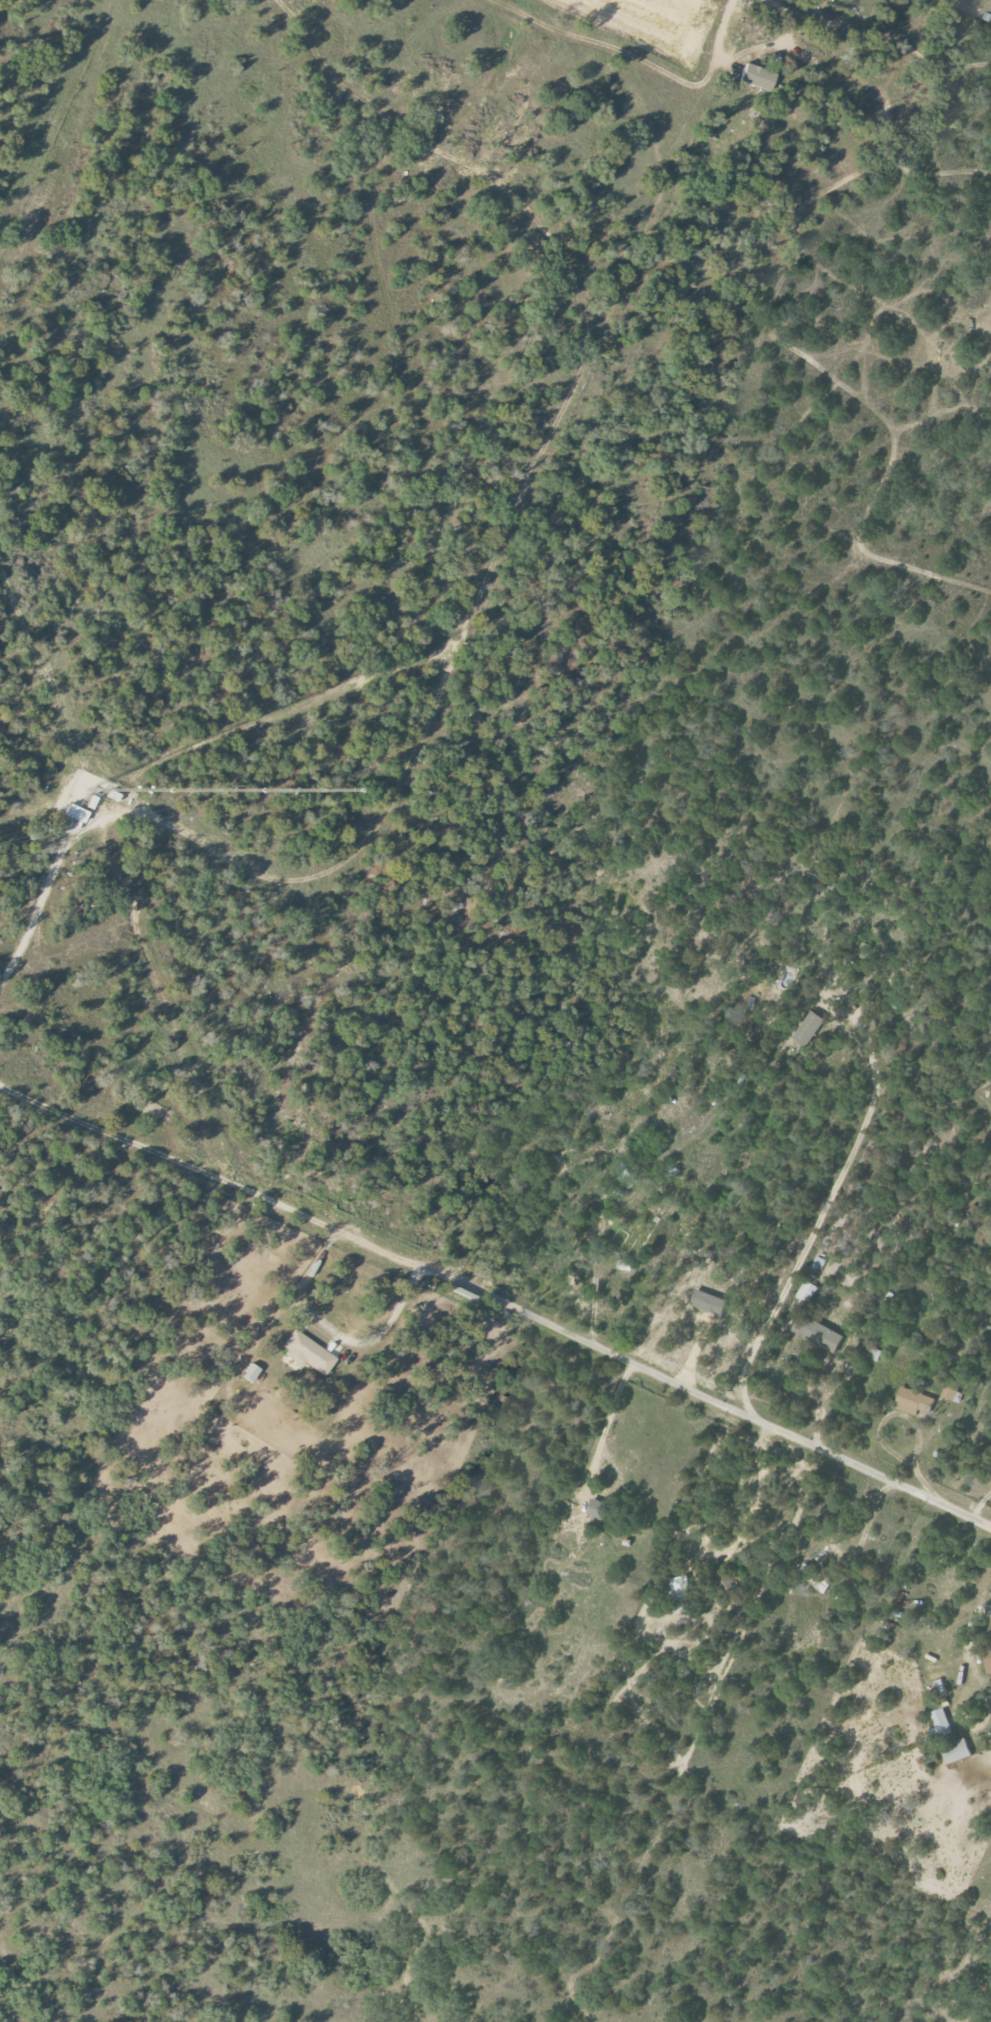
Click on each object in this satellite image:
road: (753, 49)
building: (757, 77)
road: (479, 594)
road: (273, 716)
building: (76, 813)
building: (810, 1029)
building: (670, 1171)
road: (826, 1197)
building: (625, 1265)
building: (807, 1292)
building: (711, 1302)
road: (496, 1304)
road: (331, 1327)
building: (819, 1333)
building: (307, 1353)
building: (251, 1373)
building: (950, 1389)
building: (915, 1402)
road: (908, 1418)
road: (603, 1425)
road: (756, 1493)
building: (599, 1508)
building: (814, 1579)
building: (683, 1588)
road: (970, 1621)
building: (988, 1659)
building: (951, 1738)

